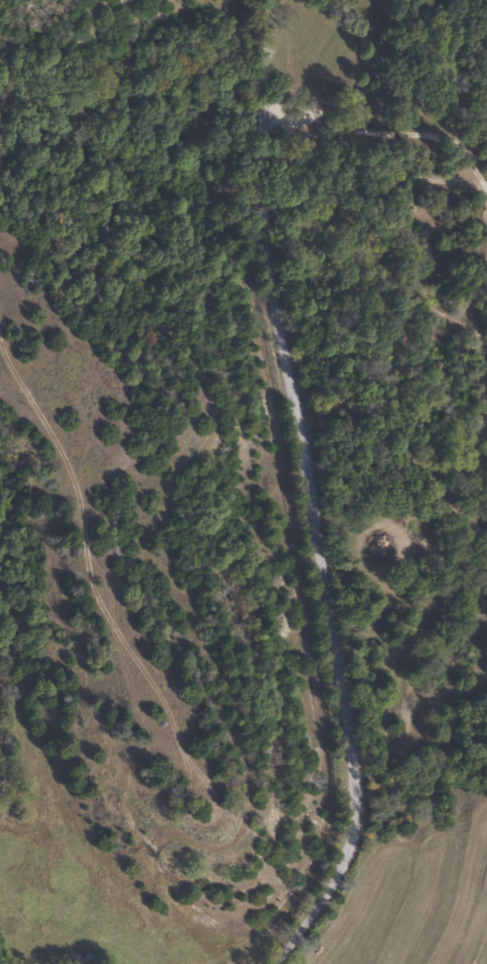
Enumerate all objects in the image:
road: (302, 496)
building: (74, 959)

